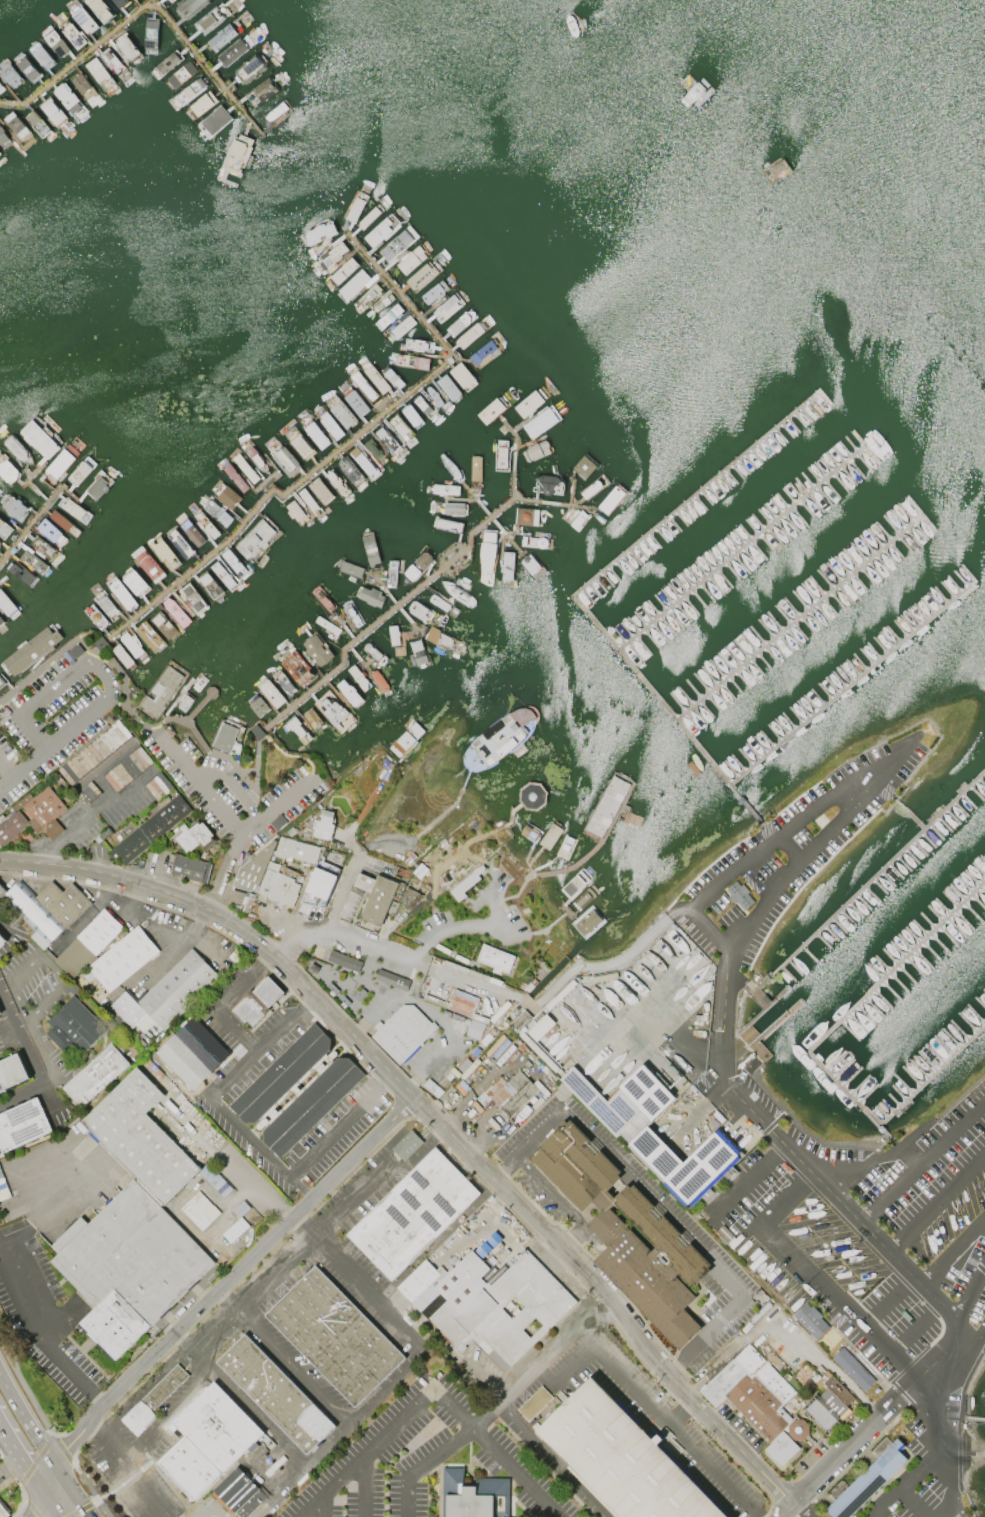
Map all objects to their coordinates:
building: (170, 0)
building: (120, 2)
pier: (143, 6)
building: (188, 6)
building: (101, 9)
building: (84, 19)
building: (211, 19)
building: (73, 34)
building: (150, 35)
building: (221, 37)
building: (55, 42)
building: (128, 47)
building: (233, 51)
building: (41, 56)
building: (113, 59)
building: (167, 63)
building: (27, 67)
building: (250, 69)
building: (97, 70)
building: (180, 74)
building: (11, 75)
building: (83, 85)
building: (1, 88)
building: (261, 90)
building: (188, 92)
building: (68, 98)
building: (201, 104)
building: (52, 112)
building: (275, 112)
building: (213, 121)
building: (37, 122)
building: (16, 124)
building: (3, 138)
building: (0, 153)
building: (237, 155)
building: (356, 207)
building: (370, 216)
building: (382, 230)
building: (319, 232)
building: (396, 244)
building: (332, 254)
building: (413, 258)
building: (343, 271)
building: (422, 275)
building: (354, 284)
building: (435, 291)
building: (367, 296)
building: (380, 303)
building: (448, 308)
building: (389, 316)
building: (460, 322)
building: (402, 327)
building: (470, 335)
building: (418, 346)
building: (483, 354)
building: (408, 360)
building: (461, 374)
building: (376, 378)
building: (392, 379)
building: (363, 385)
building: (448, 386)
building: (433, 395)
building: (356, 402)
building: (529, 403)
building: (424, 405)
building: (491, 410)
building: (341, 412)
building: (411, 415)
building: (541, 421)
building: (330, 425)
building: (400, 427)
building: (316, 434)
building: (39, 439)
building: (386, 439)
building: (299, 443)
building: (18, 450)
building: (375, 451)
building: (536, 451)
building: (501, 454)
pier: (331, 455)
building: (255, 457)
pier: (742, 457)
building: (284, 459)
building: (363, 461)
building: (61, 462)
building: (584, 466)
building: (450, 467)
building: (475, 467)
building: (244, 468)
building: (7, 470)
building: (350, 470)
building: (80, 471)
building: (235, 477)
building: (336, 482)
pier: (28, 483)
building: (548, 484)
building: (98, 485)
building: (592, 488)
building: (445, 490)
building: (321, 491)
pier: (570, 492)
building: (228, 497)
building: (611, 499)
building: (309, 500)
pier: (555, 502)
building: (13, 505)
building: (454, 508)
building: (75, 509)
building: (217, 512)
building: (296, 512)
building: (527, 515)
pier: (490, 519)
building: (60, 520)
building: (578, 520)
pier: (31, 523)
building: (207, 524)
building: (447, 524)
building: (4, 529)
building: (49, 529)
building: (192, 531)
building: (256, 539)
building: (179, 541)
building: (534, 541)
building: (43, 547)
building: (371, 547)
building: (486, 549)
pier: (746, 551)
building: (164, 553)
building: (232, 559)
building: (33, 560)
building: (148, 565)
building: (507, 565)
building: (530, 566)
building: (349, 567)
building: (416, 567)
building: (391, 573)
building: (21, 574)
building: (223, 575)
building: (135, 582)
building: (10, 585)
building: (210, 585)
pier: (421, 585)
building: (457, 593)
building: (122, 594)
building: (369, 595)
building: (193, 598)
pier: (395, 601)
building: (438, 602)
building: (6, 603)
building: (106, 604)
building: (420, 611)
building: (177, 612)
building: (352, 612)
building: (96, 615)
building: (1, 619)
pier: (798, 620)
building: (327, 625)
building: (164, 626)
building: (394, 635)
building: (149, 636)
building: (441, 638)
building: (130, 644)
building: (316, 648)
building: (32, 649)
building: (399, 649)
building: (374, 653)
building: (418, 653)
building: (123, 655)
building: (296, 668)
building: (358, 676)
building: (2, 680)
building: (379, 680)
building: (282, 681)
pier: (854, 682)
building: (161, 690)
building: (271, 692)
building: (348, 692)
road: (32, 701)
building: (259, 706)
building: (332, 709)
pier: (666, 709)
building: (313, 718)
road: (70, 726)
building: (298, 729)
building: (226, 738)
road: (180, 757)
road: (99, 766)
road: (5, 768)
road: (214, 774)
road: (835, 791)
road: (92, 812)
building: (35, 816)
pier: (914, 818)
building: (324, 825)
building: (150, 829)
road: (241, 834)
building: (194, 836)
building: (296, 850)
parking lot: (787, 852)
building: (190, 868)
building: (254, 869)
building: (466, 883)
building: (277, 884)
building: (319, 887)
pier: (866, 891)
building: (739, 894)
building: (377, 897)
building: (409, 899)
building: (45, 908)
building: (587, 922)
road: (452, 929)
building: (99, 934)
road: (186, 941)
building: (1, 942)
road: (175, 951)
road: (366, 951)
building: (495, 958)
building: (122, 959)
building: (344, 960)
pier: (898, 968)
road: (560, 975)
road: (11, 977)
building: (392, 979)
building: (177, 990)
road: (226, 999)
pier: (762, 1000)
building: (258, 1003)
pier: (765, 1010)
building: (0, 1013)
building: (0, 1016)
pier: (777, 1025)
building: (74, 1029)
building: (475, 1029)
building: (402, 1032)
building: (191, 1057)
road: (29, 1063)
building: (11, 1071)
building: (95, 1078)
parking lot: (229, 1084)
building: (295, 1092)
building: (511, 1092)
road: (209, 1094)
pier: (895, 1110)
road: (338, 1125)
building: (21, 1126)
road: (439, 1126)
pier: (883, 1129)
building: (139, 1138)
building: (639, 1141)
building: (406, 1147)
road: (922, 1160)
road: (749, 1182)
road: (255, 1187)
road: (830, 1191)
parking lot: (549, 1201)
road: (938, 1201)
road: (54, 1202)
road: (560, 1203)
road: (656, 1203)
building: (199, 1209)
building: (412, 1215)
building: (624, 1233)
road: (953, 1252)
parking lot: (874, 1258)
road: (285, 1262)
building: (127, 1268)
road: (813, 1277)
road: (970, 1287)
road: (210, 1297)
road: (888, 1300)
building: (487, 1304)
road: (394, 1318)
building: (810, 1318)
road: (913, 1326)
road: (215, 1330)
road: (42, 1332)
building: (334, 1335)
road: (186, 1340)
road: (9, 1349)
road: (557, 1356)
road: (7, 1359)
building: (852, 1367)
road: (290, 1369)
road: (433, 1390)
building: (275, 1393)
building: (757, 1394)
building: (157, 1397)
building: (535, 1403)
road: (651, 1405)
building: (828, 1405)
road: (250, 1406)
road: (933, 1407)
road: (683, 1412)
road: (167, 1413)
pier: (981, 1421)
road: (27, 1424)
building: (217, 1429)
road: (60, 1446)
building: (881, 1446)
traffic signals: (66, 1448)
building: (781, 1448)
road: (165, 1451)
road: (840, 1451)
road: (435, 1452)
pier: (981, 1456)
building: (622, 1458)
road: (36, 1459)
road: (23, 1460)
road: (554, 1463)
road: (129, 1467)
traffic signals: (28, 1468)
building: (187, 1471)
building: (867, 1478)
road: (905, 1482)
road: (951, 1484)
road: (363, 1485)
road: (22, 1492)
building: (240, 1492)
road: (72, 1493)
building: (473, 1496)
road: (914, 1501)
road: (210, 1502)
road: (305, 1506)
road: (53, 1507)
road: (32, 1508)
road: (81, 1508)
road: (783, 1509)
traffic signals: (84, 1510)
building: (3, 1512)
parking lot: (806, 1512)
road: (36, 1515)
traffic signals: (36, 1516)

